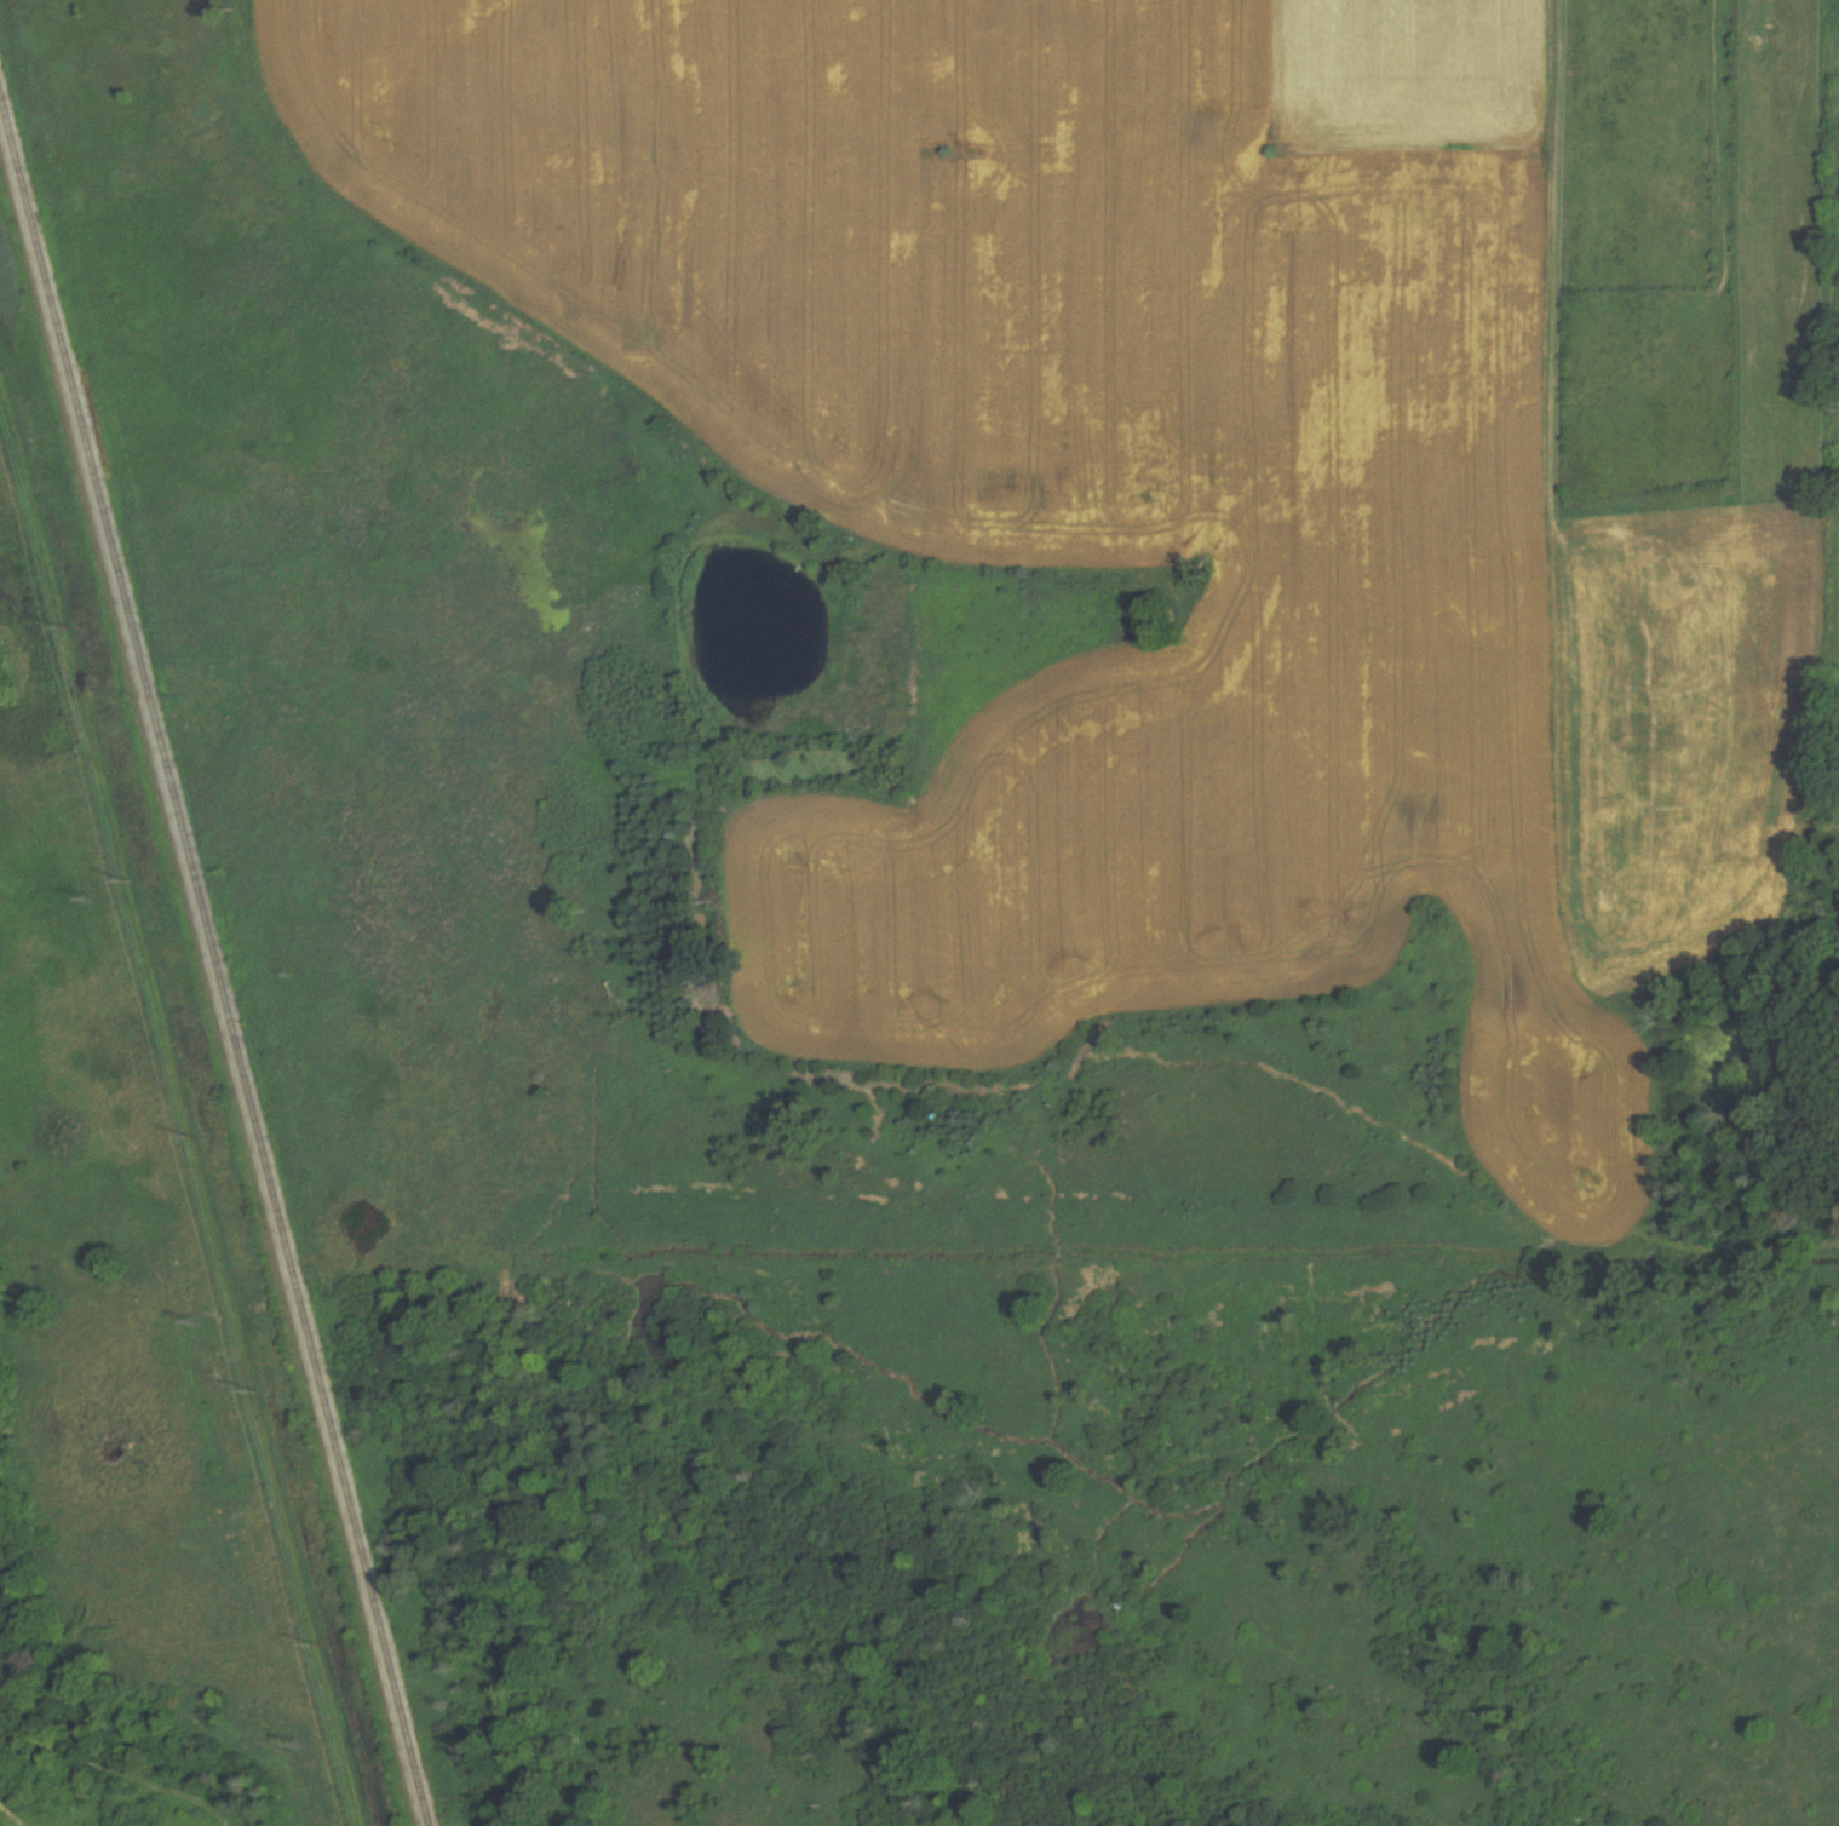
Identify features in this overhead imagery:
power tower: (2, 473)
power tower: (105, 901)
railway: (213, 954)
power tower: (208, 1323)
power tower: (312, 1746)

